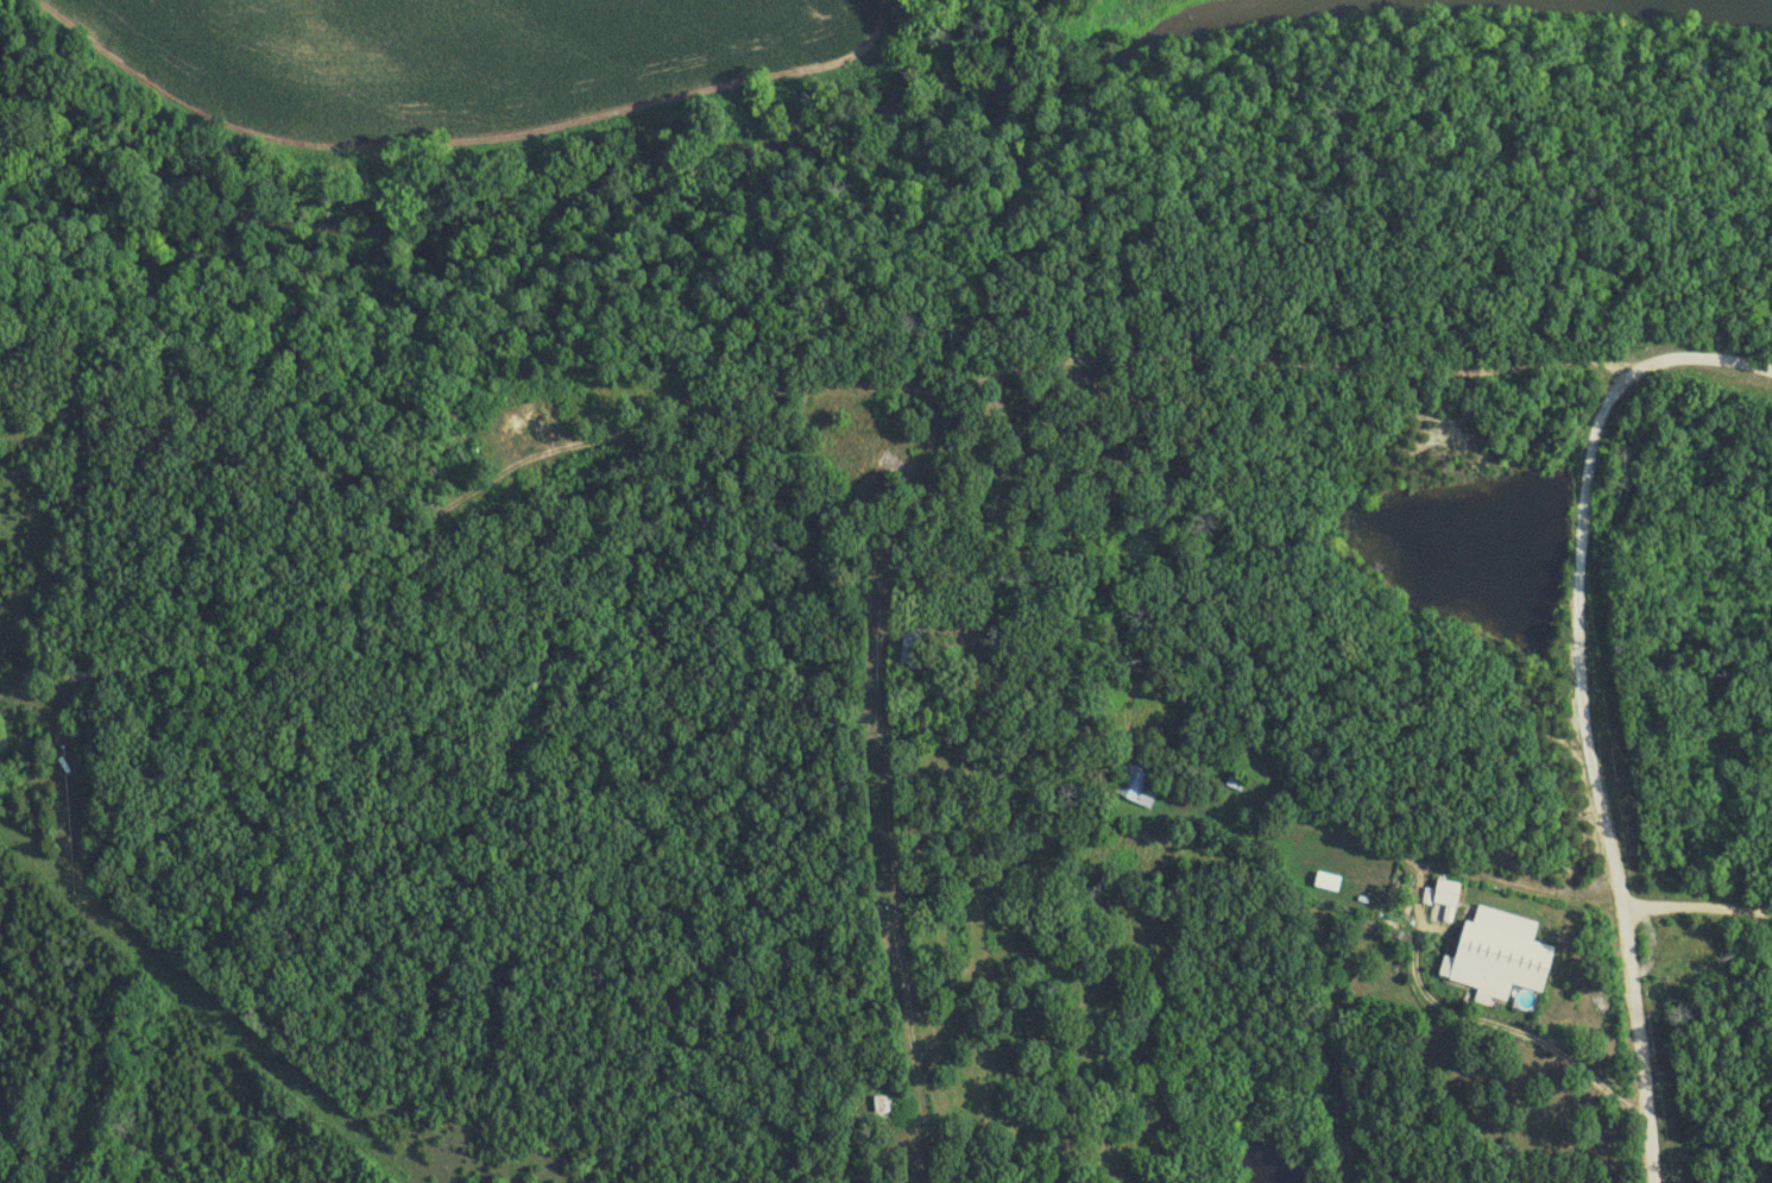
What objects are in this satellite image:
road: (928, 445)
building: (914, 638)
road: (1579, 696)
road: (1205, 780)
building: (1136, 786)
building: (1448, 895)
road: (1695, 906)
building: (1499, 957)
road: (1328, 996)
road: (1475, 1019)

